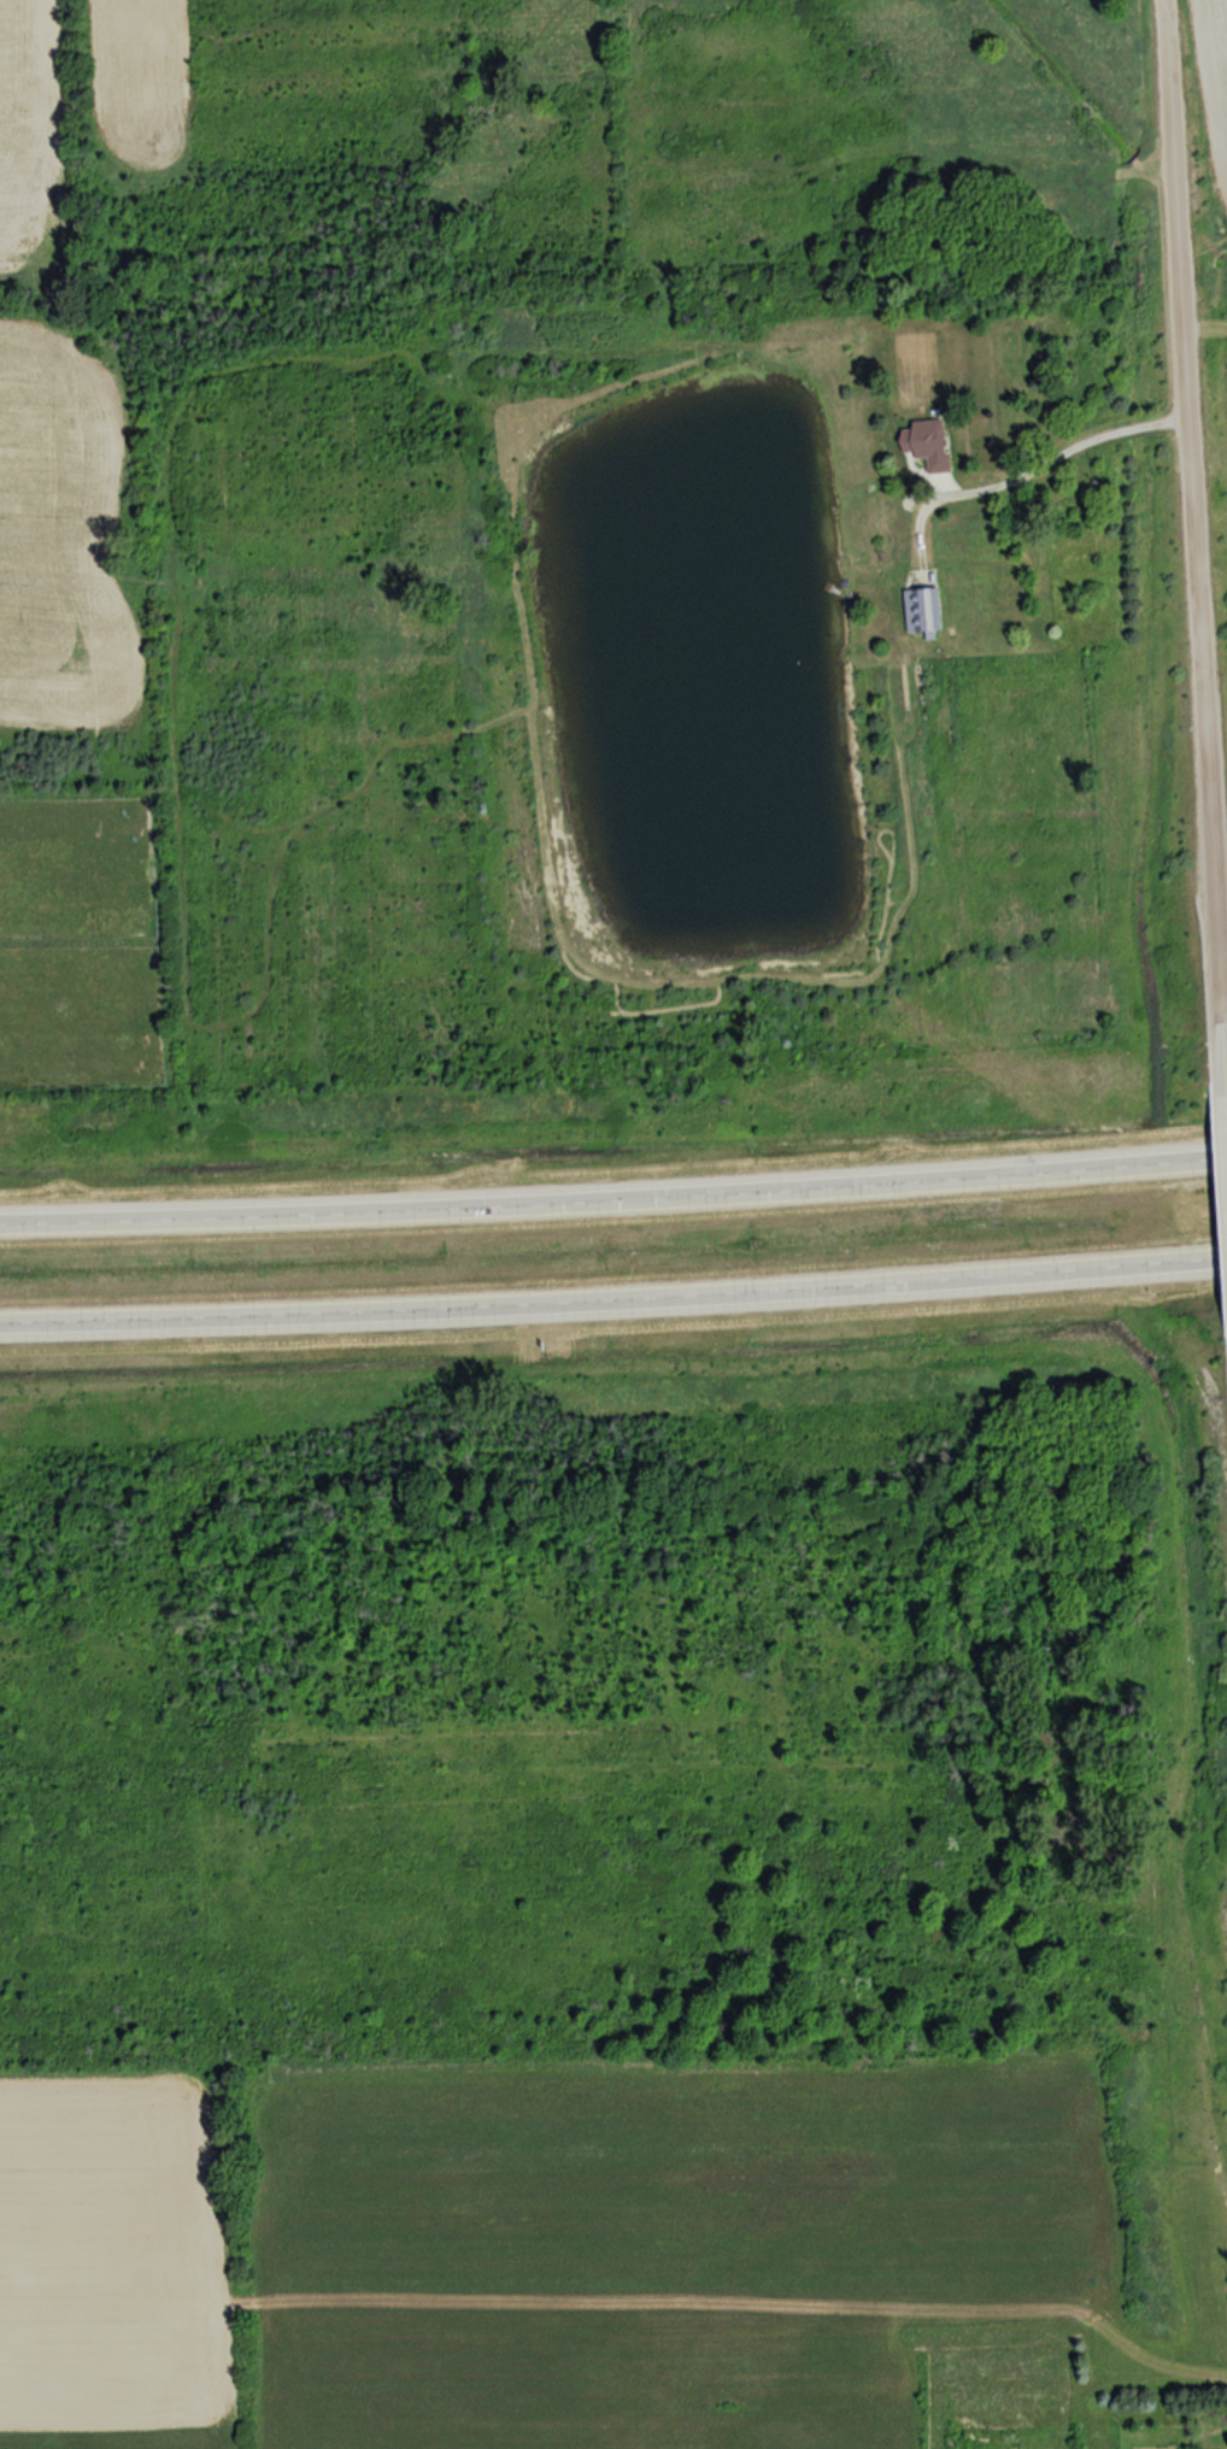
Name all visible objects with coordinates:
road: (1059, 447)
road: (1188, 542)
building: (921, 595)
road: (613, 1197)
road: (1221, 1198)
road: (613, 1298)

